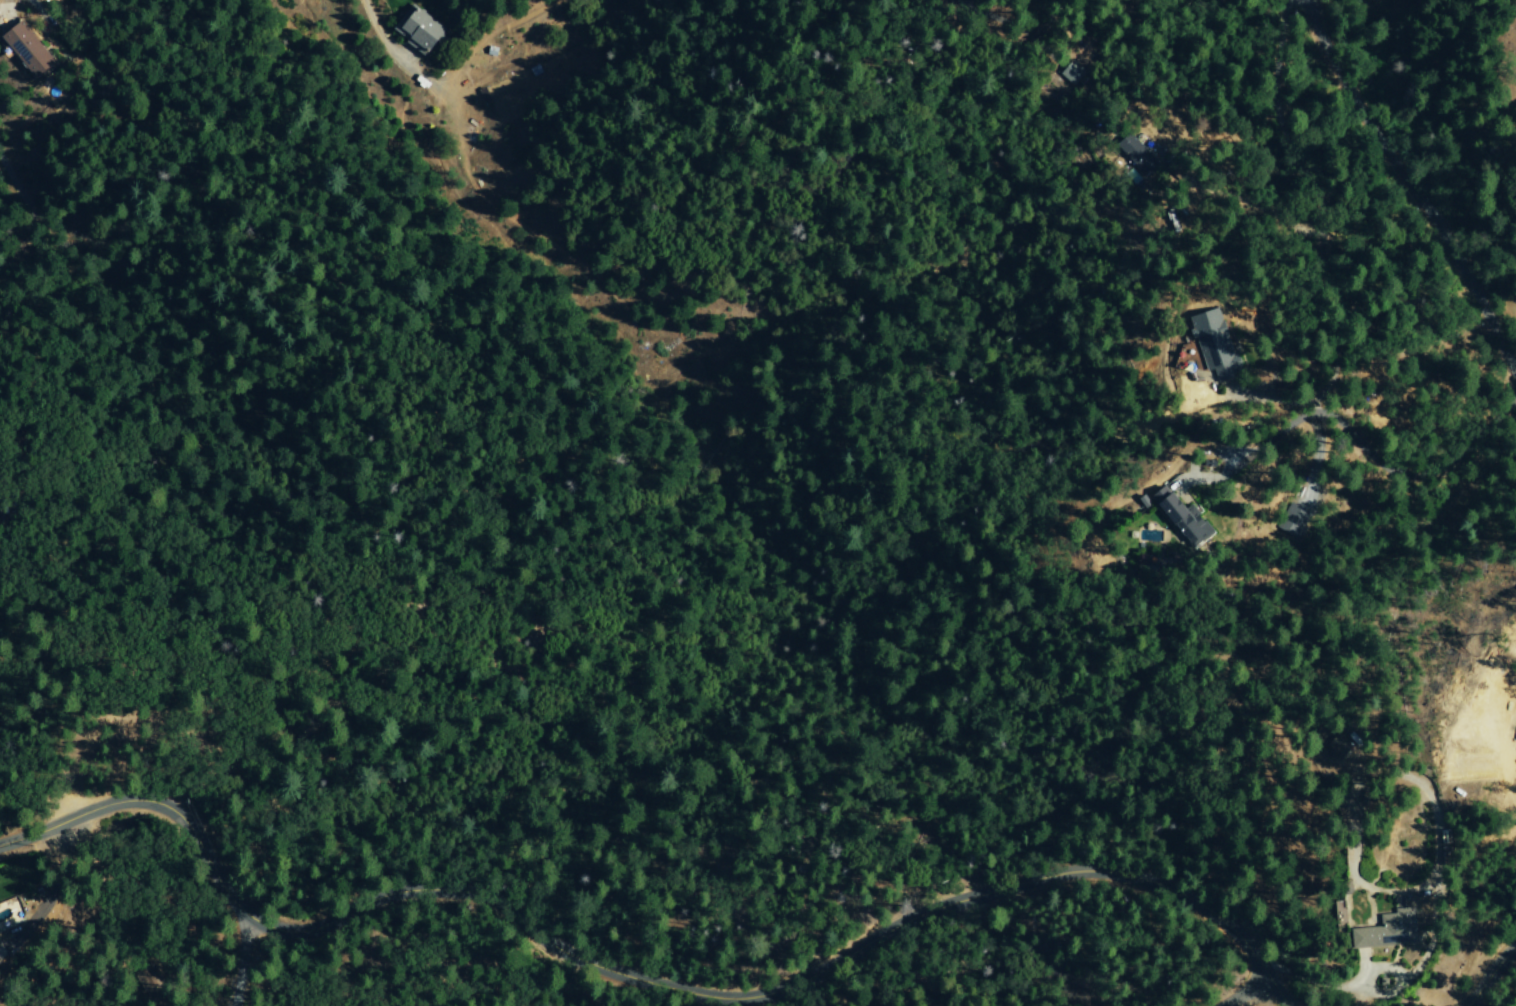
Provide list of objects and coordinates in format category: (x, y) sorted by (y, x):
road: (1041, 8)
building: (420, 30)
building: (25, 51)
road: (390, 53)
building: (1136, 157)
road: (1407, 193)
road: (1244, 204)
road: (1315, 248)
building: (1211, 346)
road: (1359, 435)
road: (1315, 454)
building: (1306, 500)
building: (1177, 519)
building: (1293, 521)
building: (1515, 739)
road: (36, 834)
building: (1344, 888)
building: (1340, 918)
building: (1373, 934)
road: (239, 958)
road: (1485, 970)
road: (673, 986)
road: (1237, 987)

